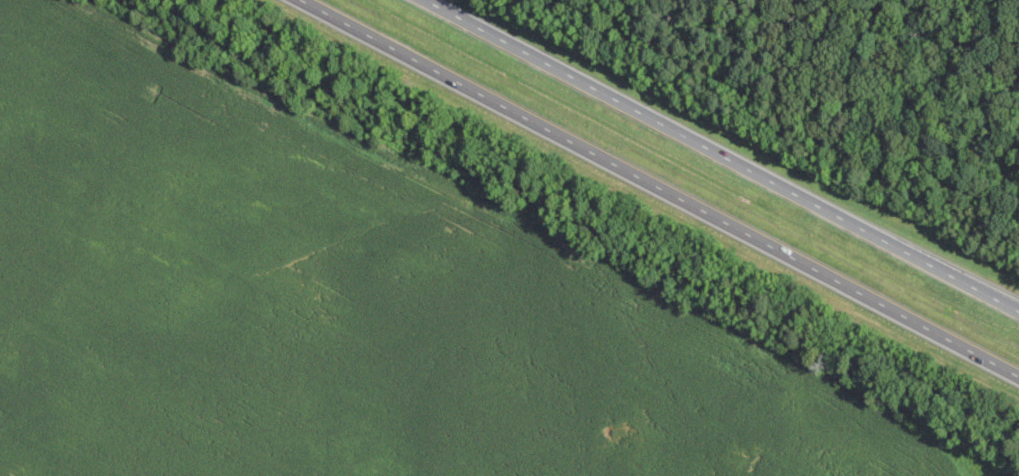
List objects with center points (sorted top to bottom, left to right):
road: (731, 151)
road: (658, 189)

